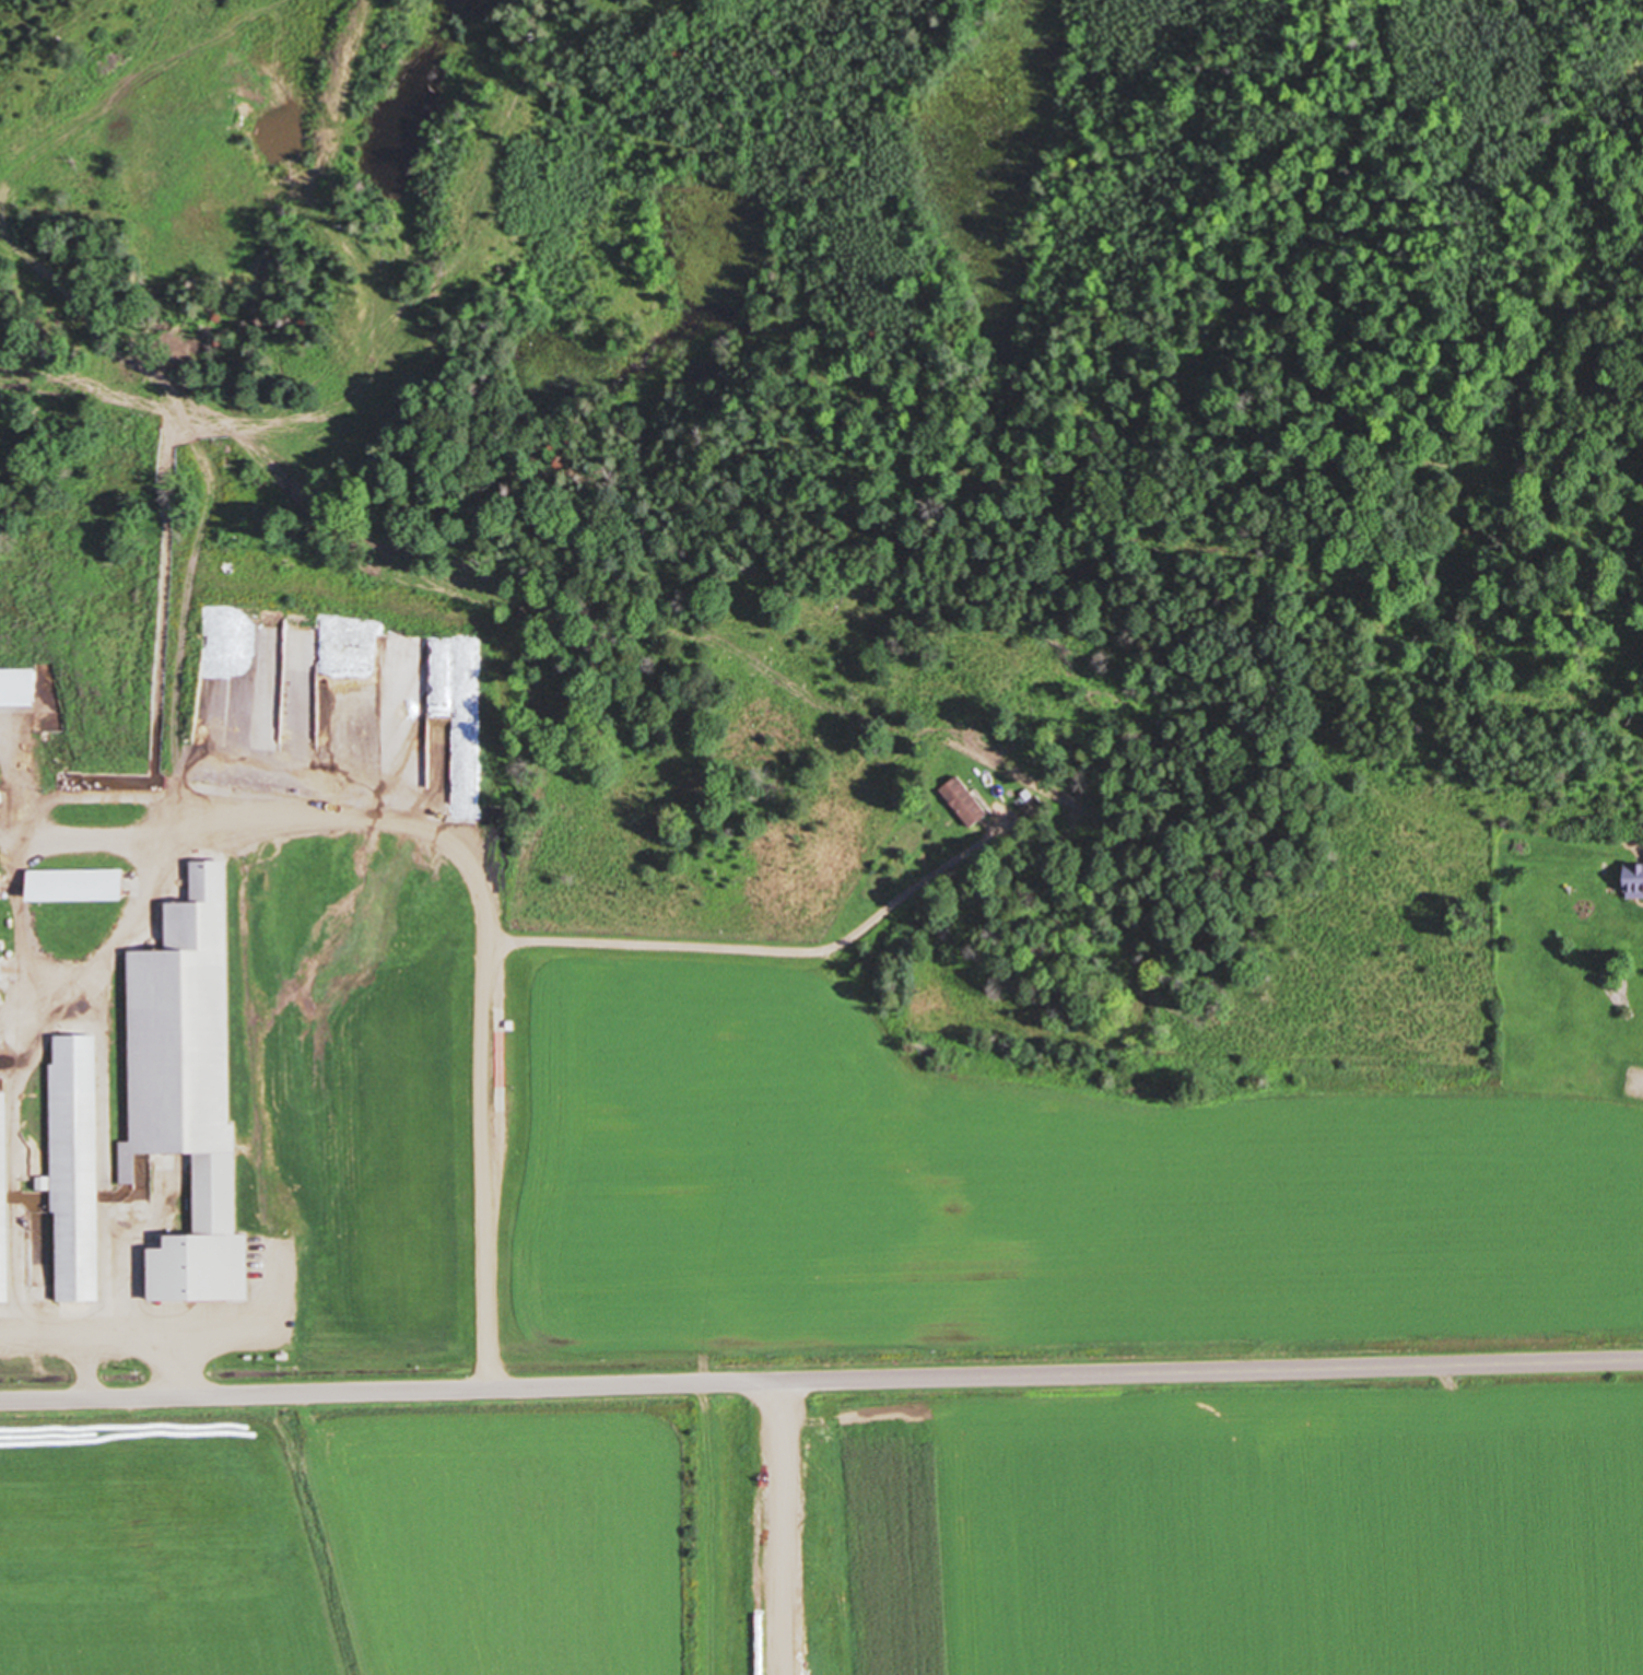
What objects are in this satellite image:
building: (31, 766)
building: (965, 803)
road: (306, 812)
building: (1634, 882)
building: (72, 885)
road: (737, 950)
building: (0, 970)
building: (77, 1166)
building: (4, 1203)
road: (49, 1332)
road: (821, 1380)
road: (777, 1527)

